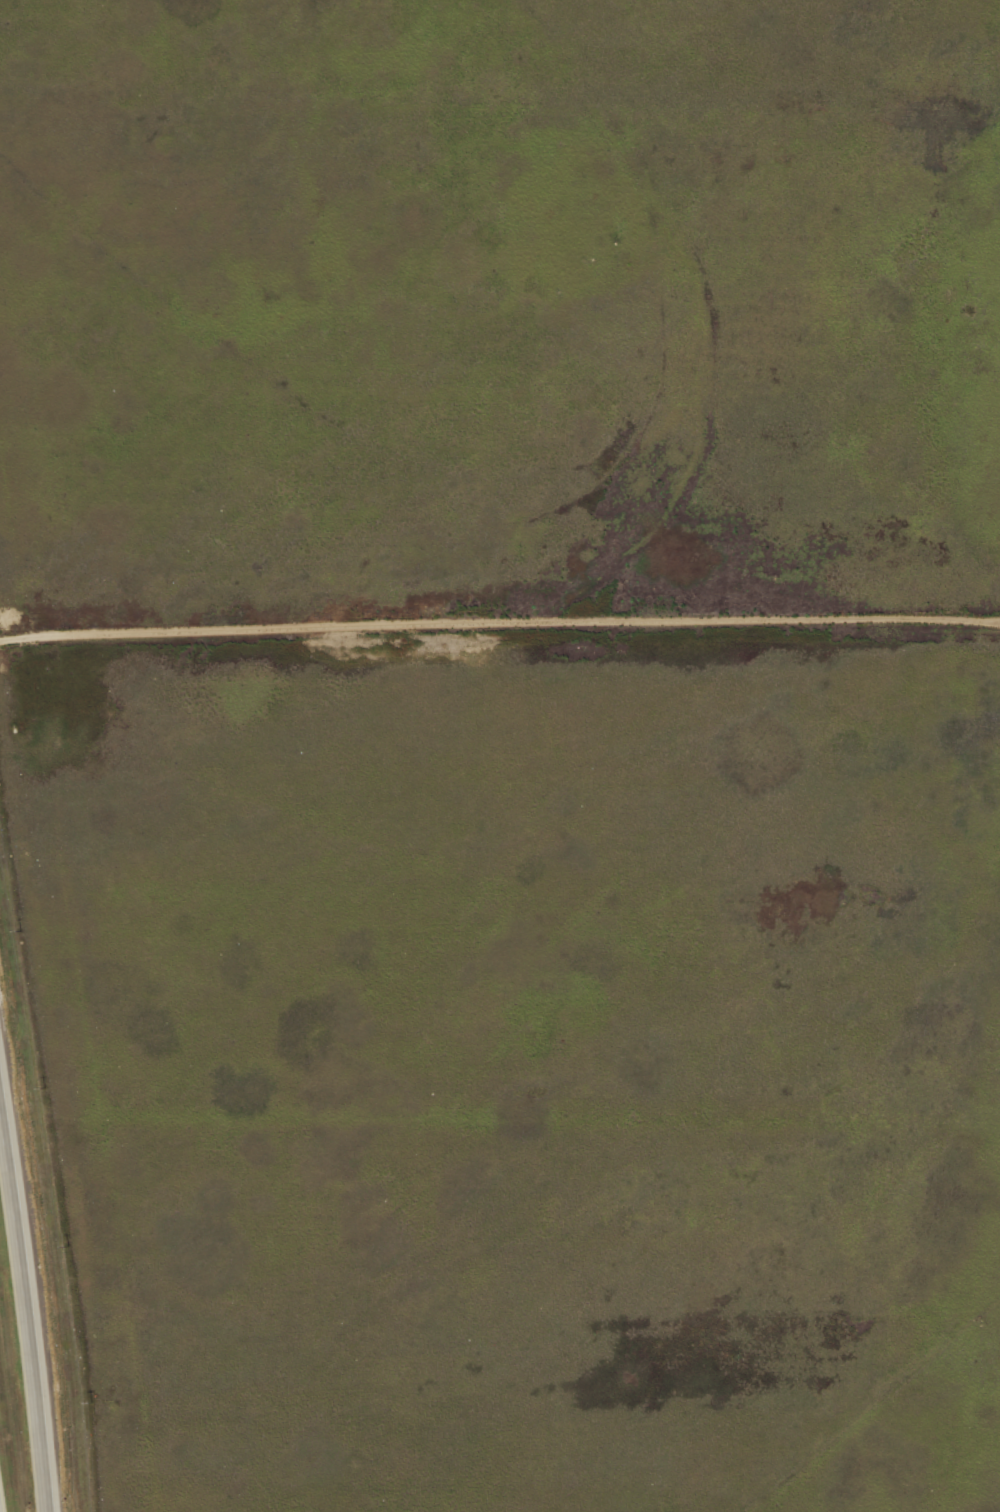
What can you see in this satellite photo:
road: (24, 1327)

